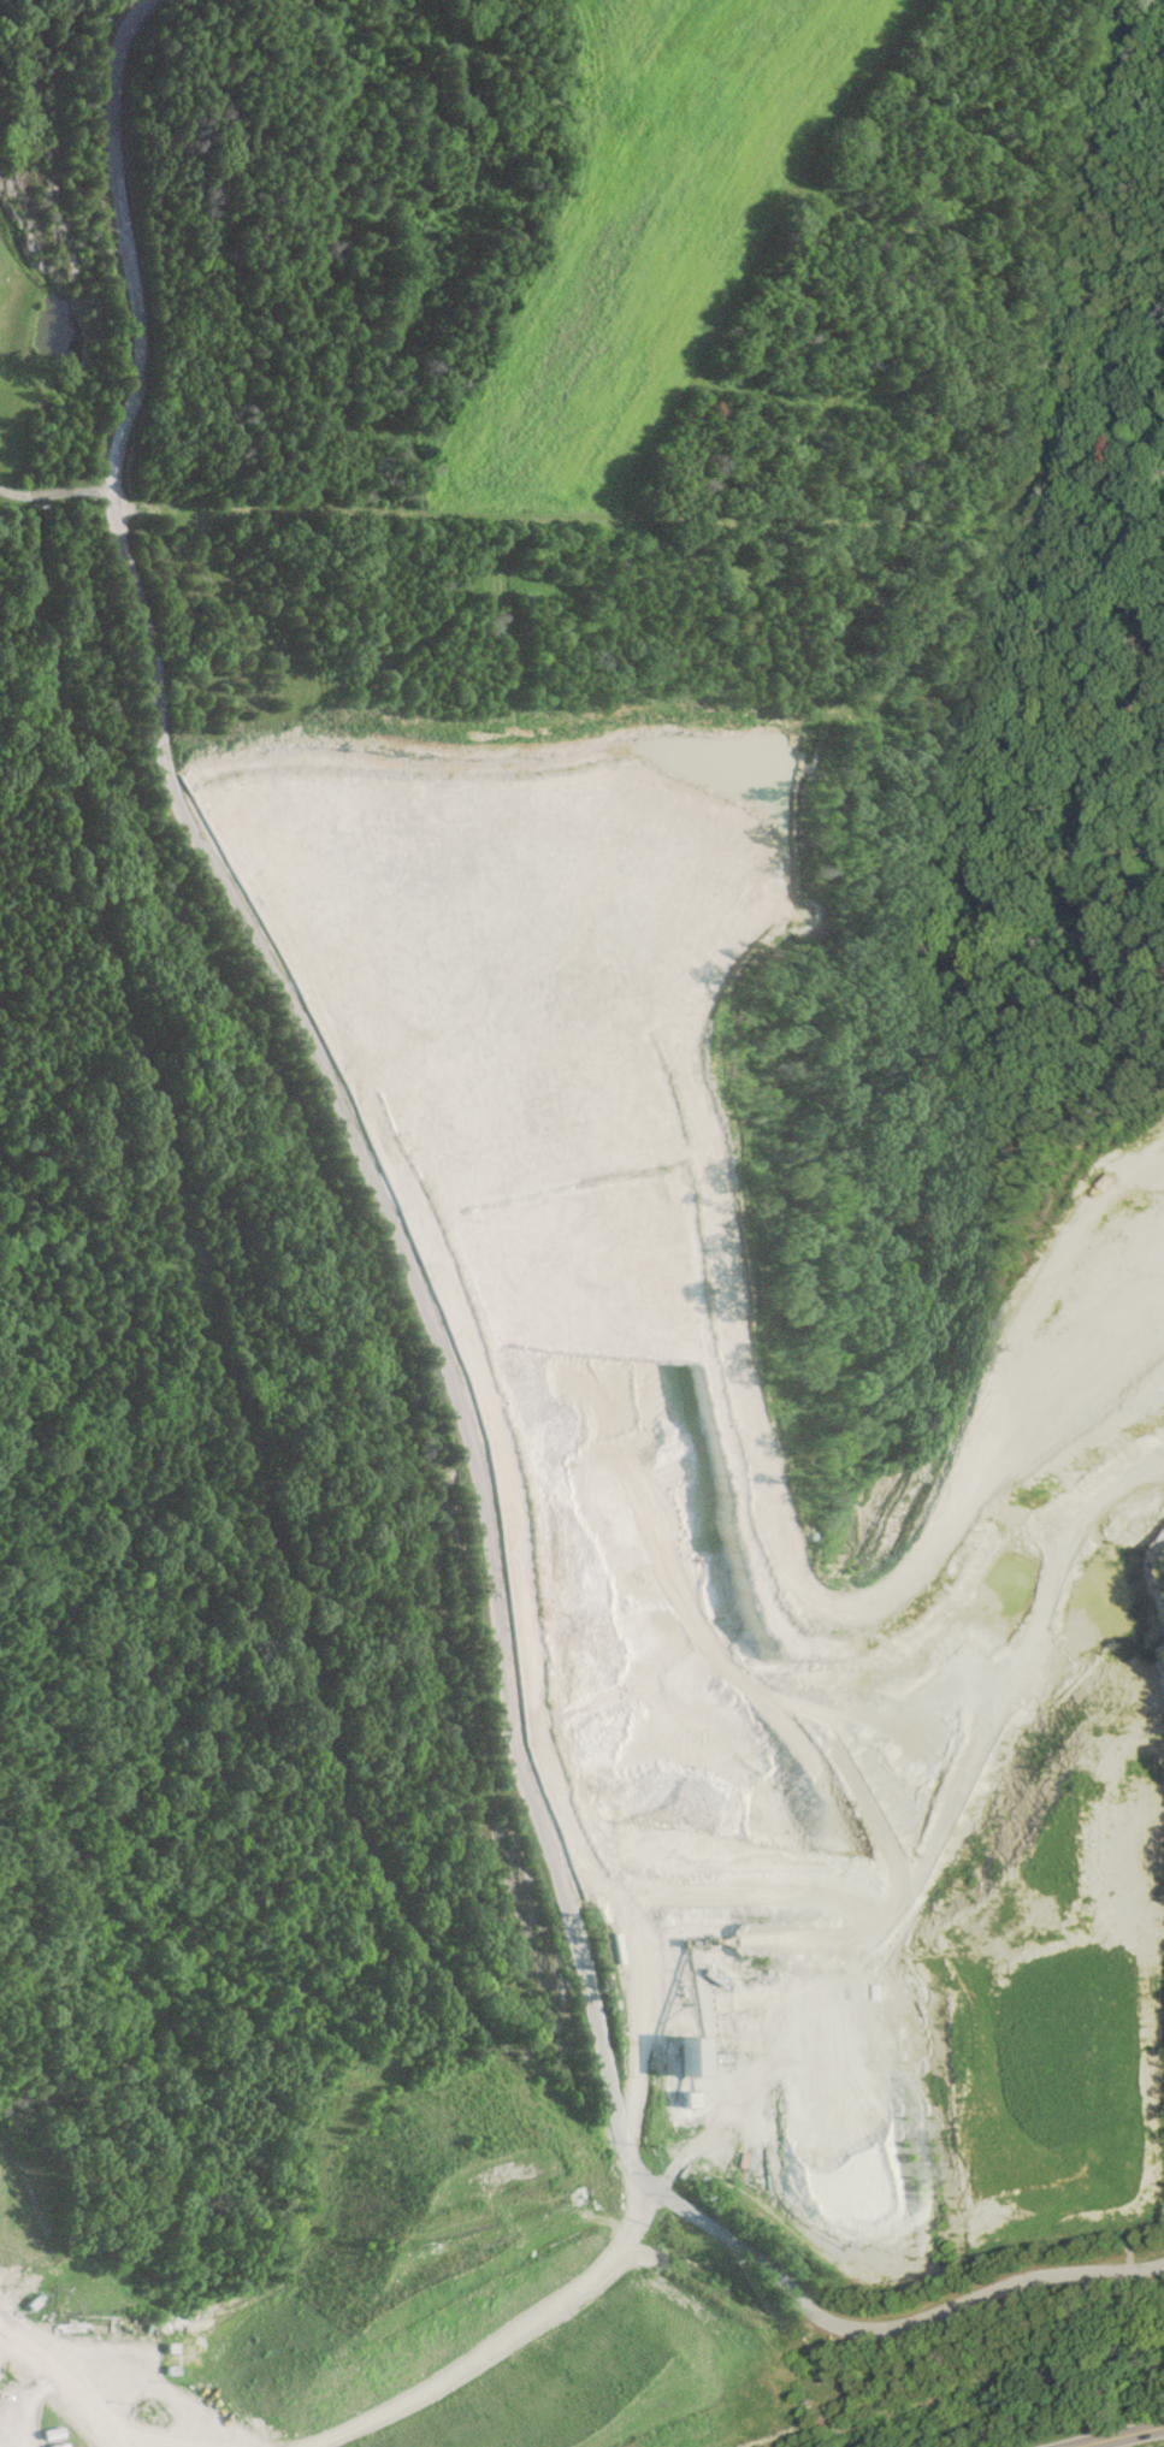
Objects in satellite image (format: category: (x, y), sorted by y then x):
road: (53, 492)
road: (436, 1350)
road: (506, 2337)
road: (1118, 2436)
building: (54, 2445)

